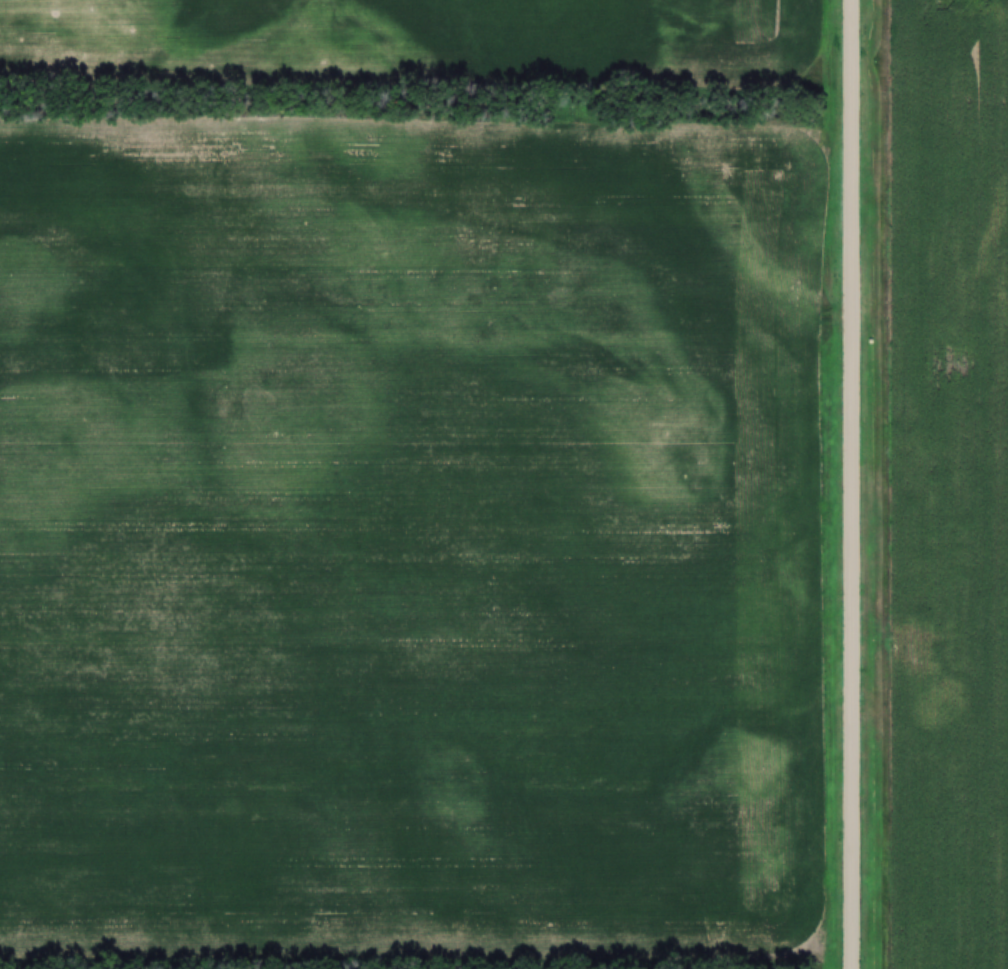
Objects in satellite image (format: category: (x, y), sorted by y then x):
road: (858, 484)
crop: (949, 484)

